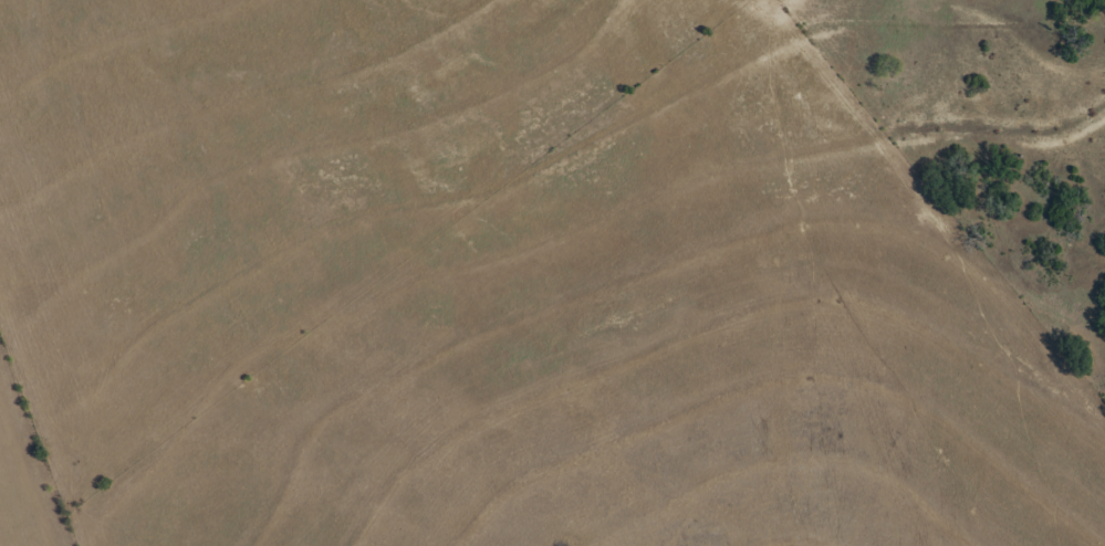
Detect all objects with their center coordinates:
road: (734, 6)

